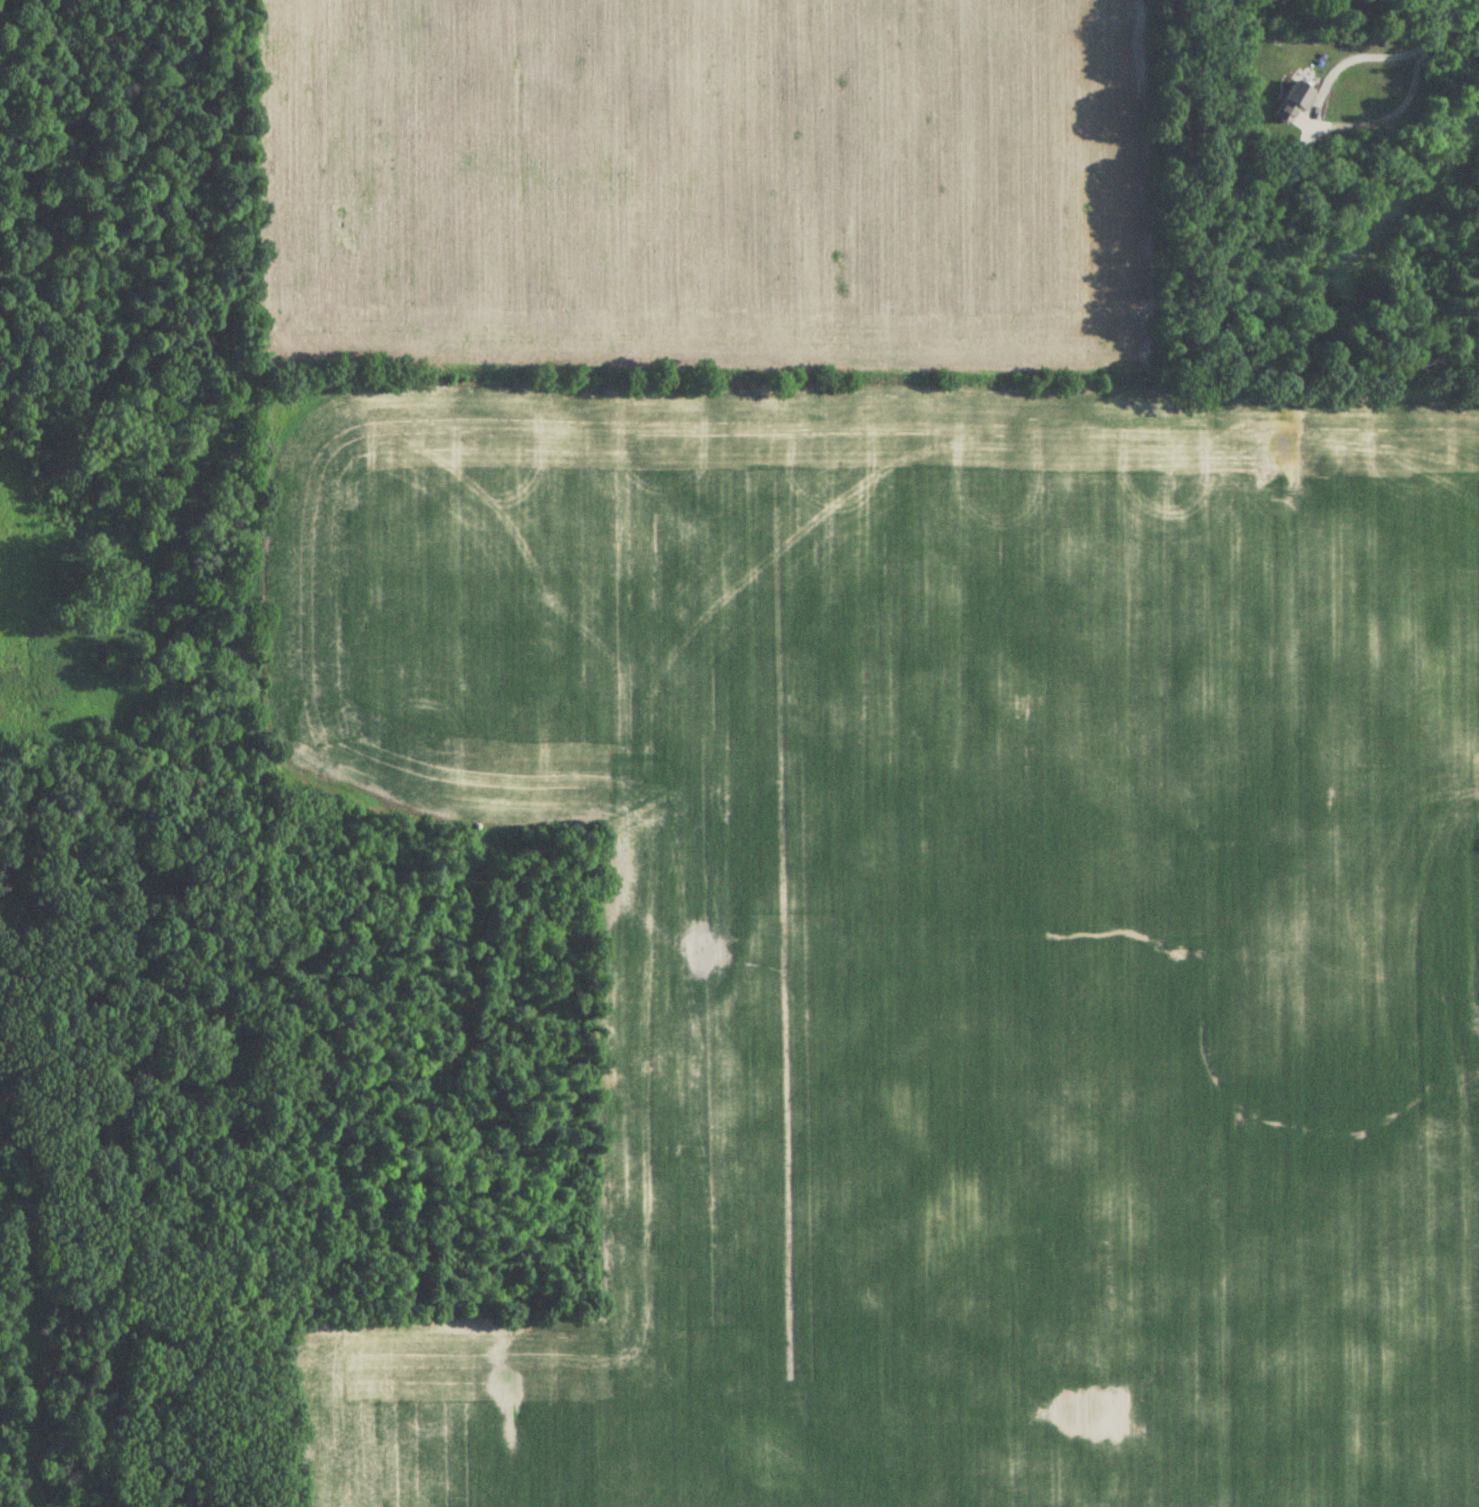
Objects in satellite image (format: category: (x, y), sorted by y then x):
road: (1446, 31)
building: (1294, 104)
road: (1315, 125)

